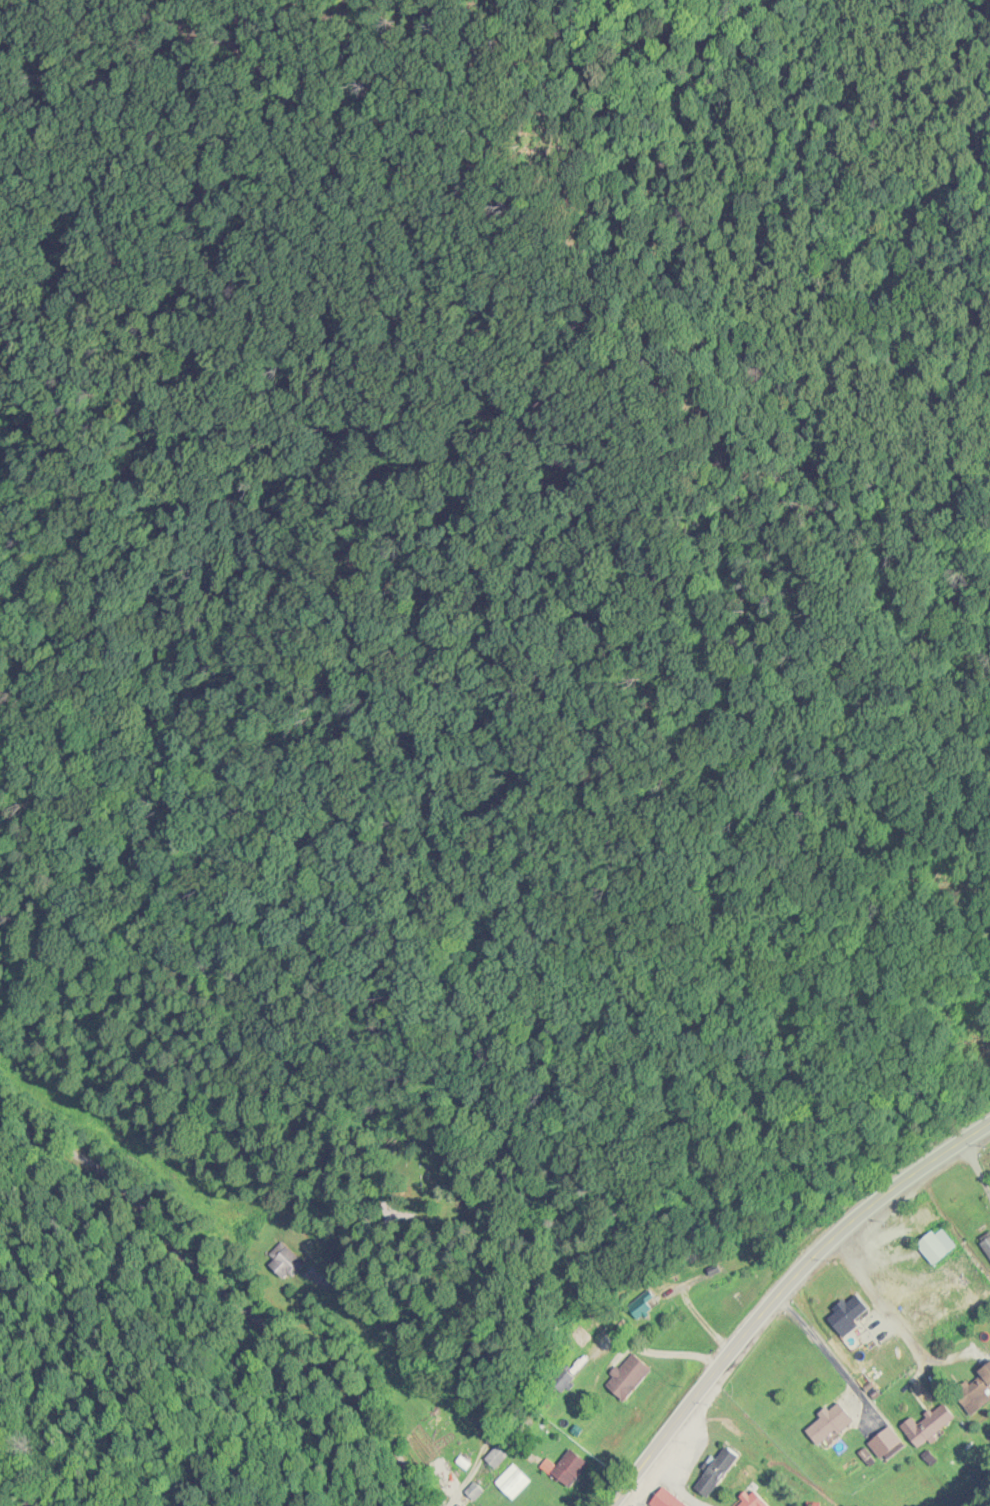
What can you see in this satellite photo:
building: (937, 1247)
building: (288, 1265)
road: (225, 1293)
road: (782, 1294)
building: (849, 1315)
building: (631, 1376)
building: (976, 1393)
building: (830, 1425)
building: (929, 1426)
building: (497, 1458)
building: (567, 1470)
building: (718, 1473)
building: (668, 1500)
building: (751, 1500)

